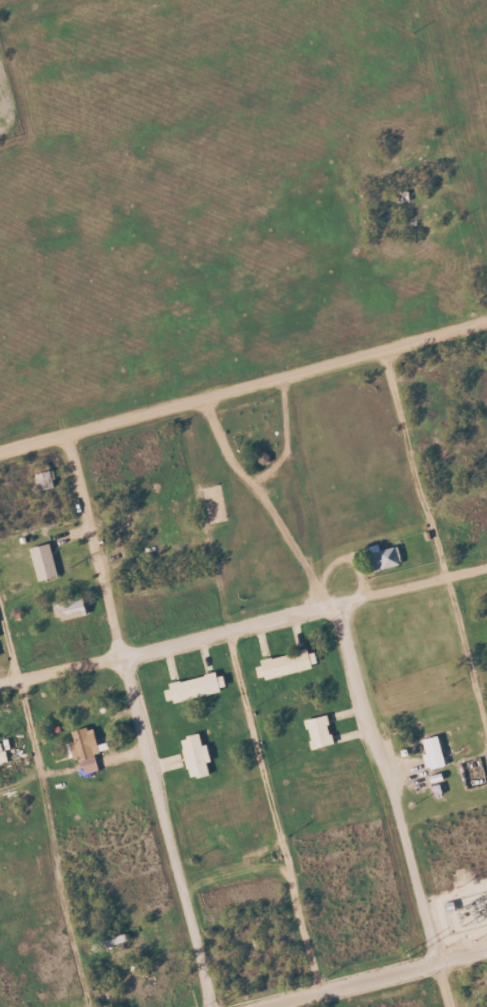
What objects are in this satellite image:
road: (243, 387)
road: (436, 540)
building: (381, 557)
building: (42, 562)
building: (67, 608)
road: (243, 625)
building: (284, 664)
building: (193, 687)
road: (362, 692)
road: (140, 721)
building: (317, 732)
building: (83, 749)
building: (431, 753)
building: (193, 756)
building: (2, 757)
road: (47, 807)
road: (274, 811)
power substation: (465, 912)
building: (111, 941)
road: (376, 979)

